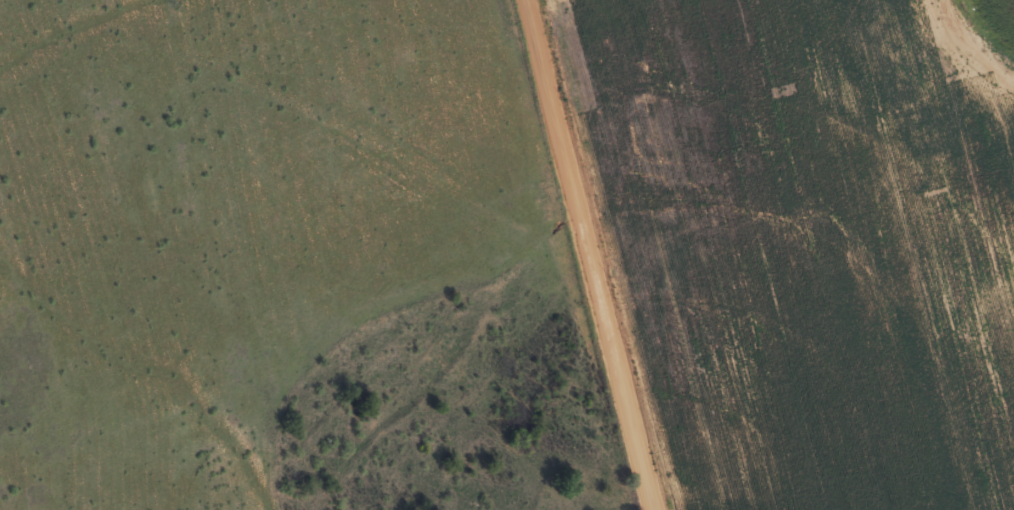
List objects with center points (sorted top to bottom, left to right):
road: (601, 255)

